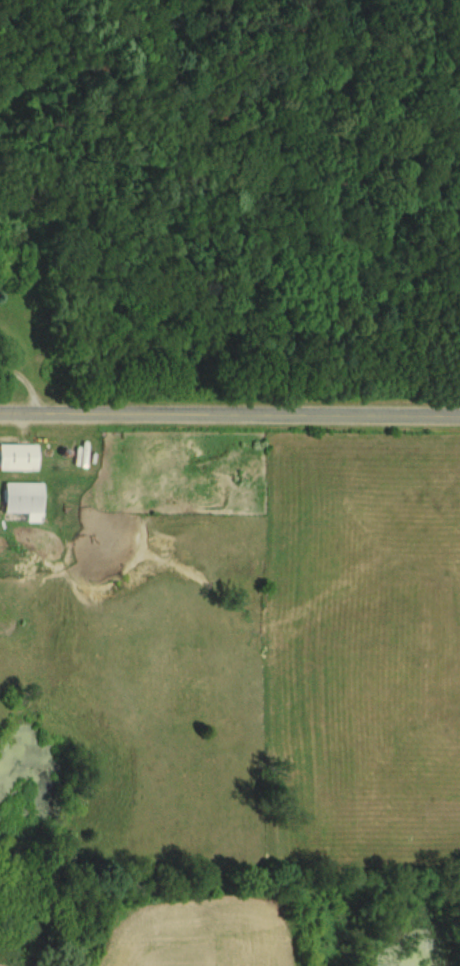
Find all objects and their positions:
road: (229, 413)
building: (18, 459)
building: (25, 502)
road: (55, 588)

